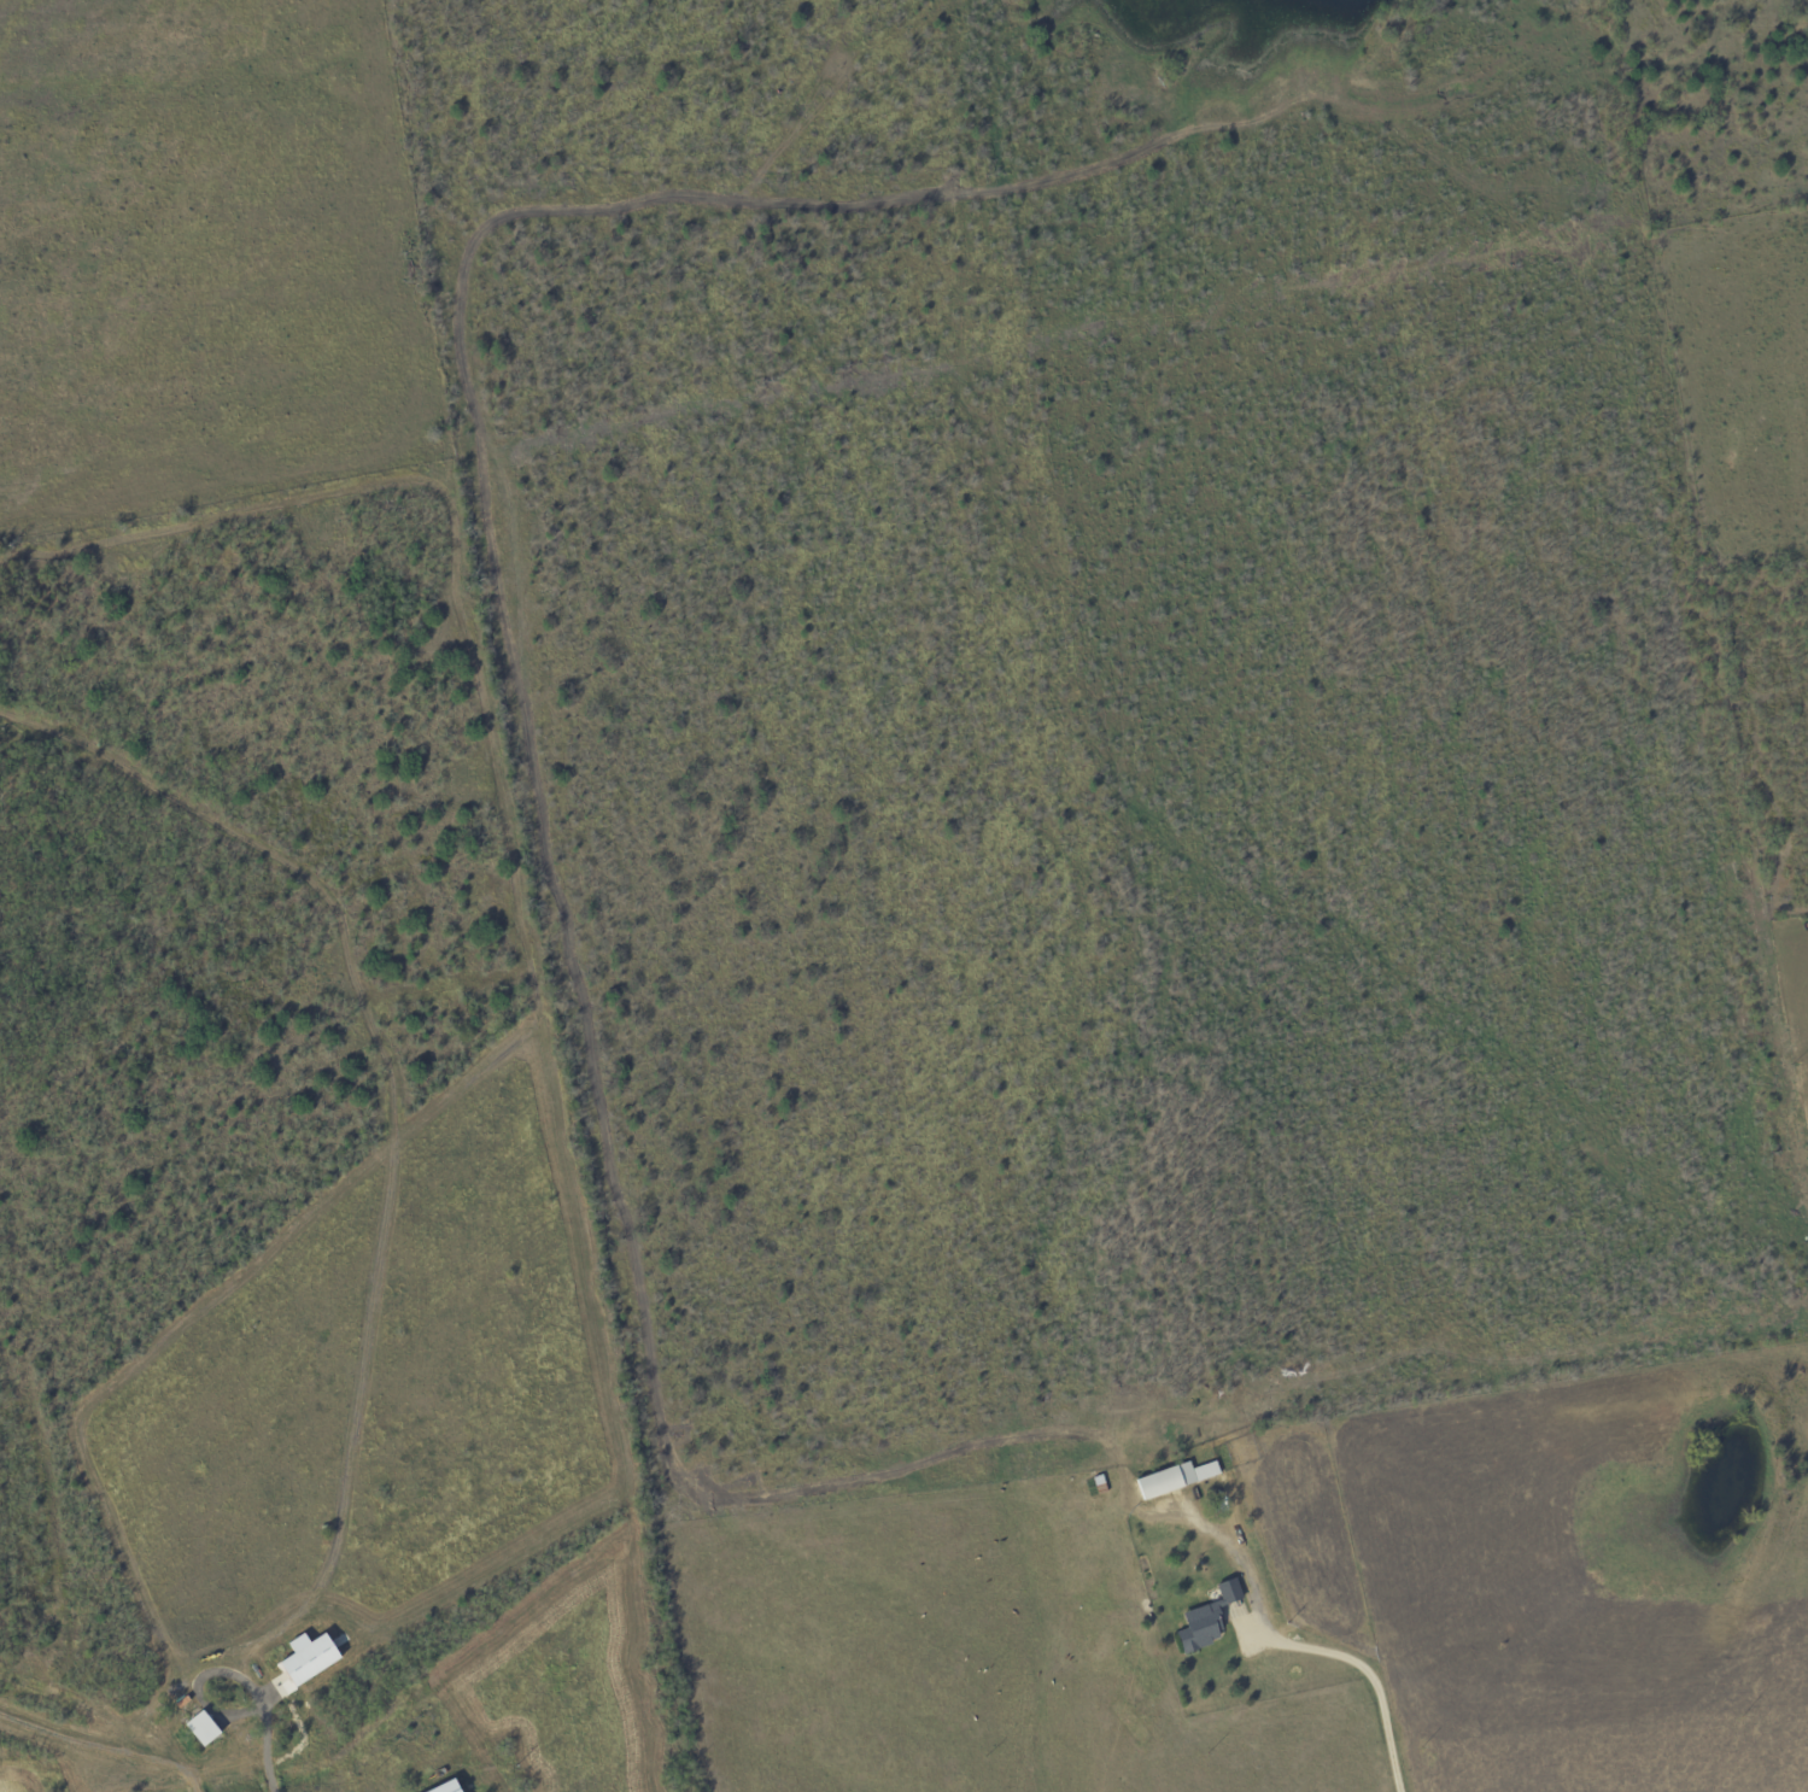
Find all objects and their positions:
building: (1171, 1478)
building: (1203, 1618)
road: (1293, 1652)
building: (312, 1657)
building: (205, 1728)
building: (454, 1787)

